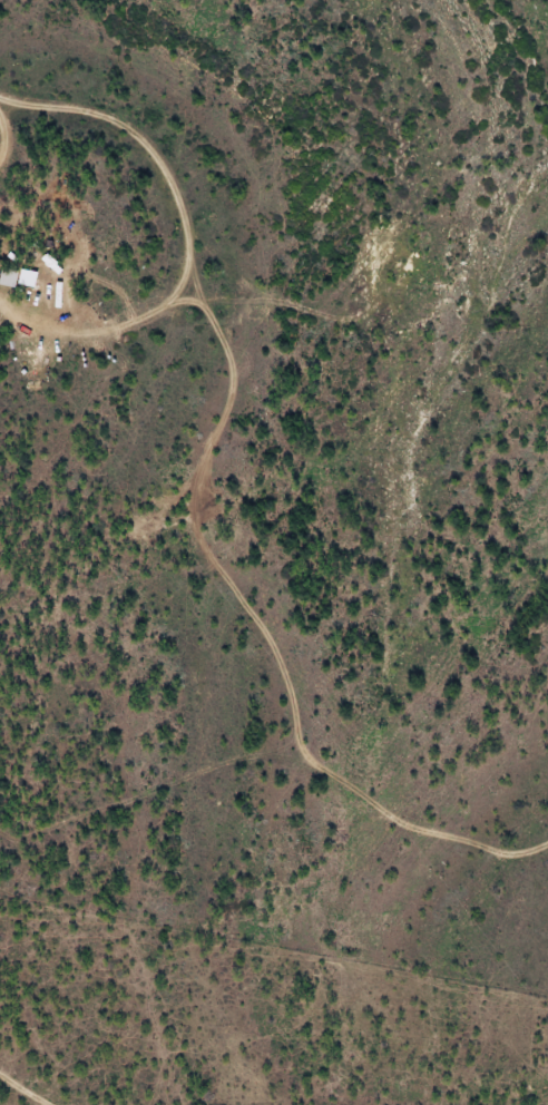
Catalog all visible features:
road: (184, 246)
building: (8, 286)

